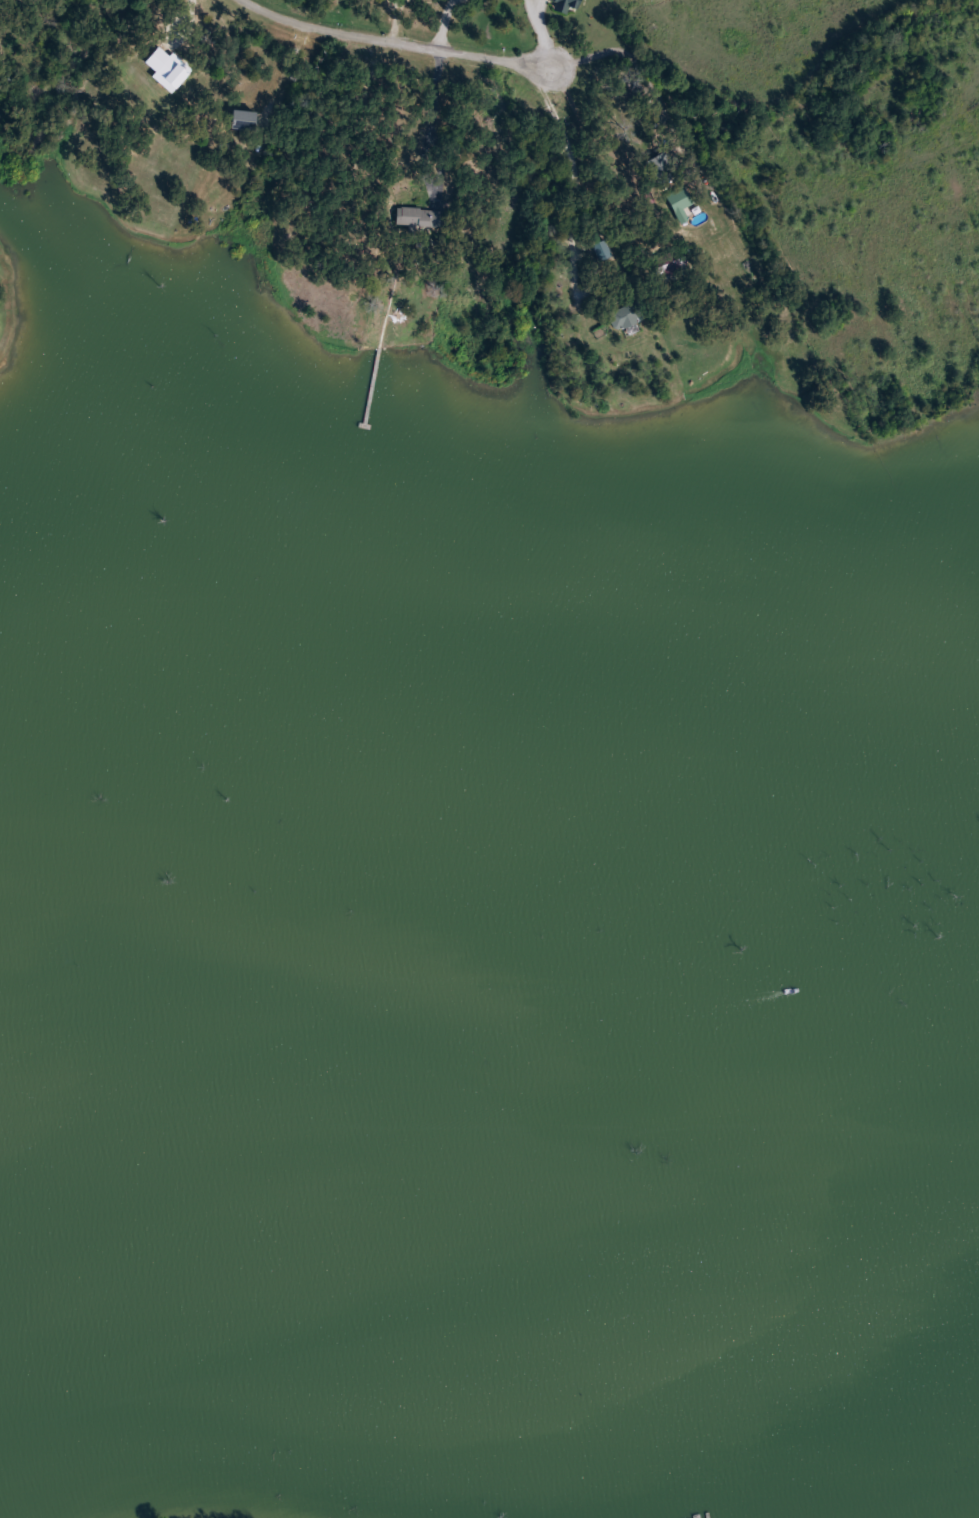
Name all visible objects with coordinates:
building: (566, 5)
road: (395, 41)
building: (246, 120)
building: (421, 217)
building: (627, 315)

